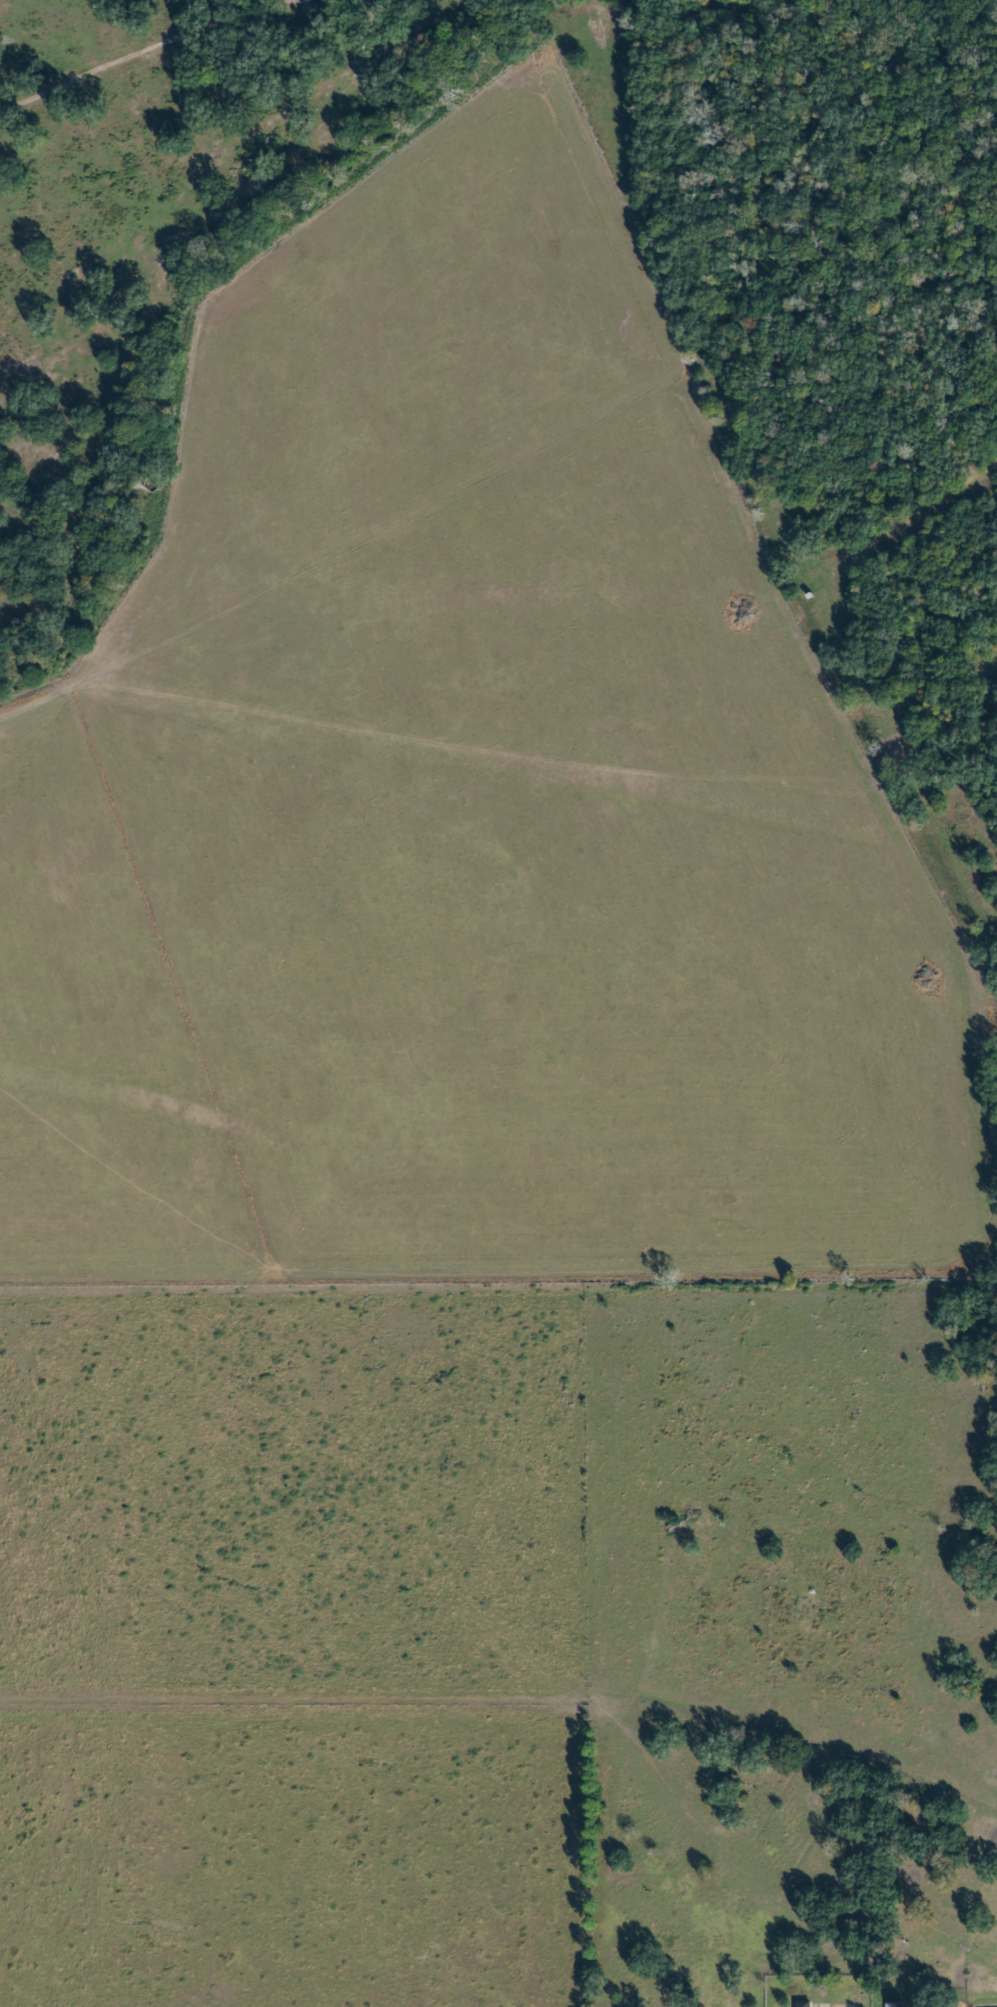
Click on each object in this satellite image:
building: (805, 2004)
building: (894, 2005)

